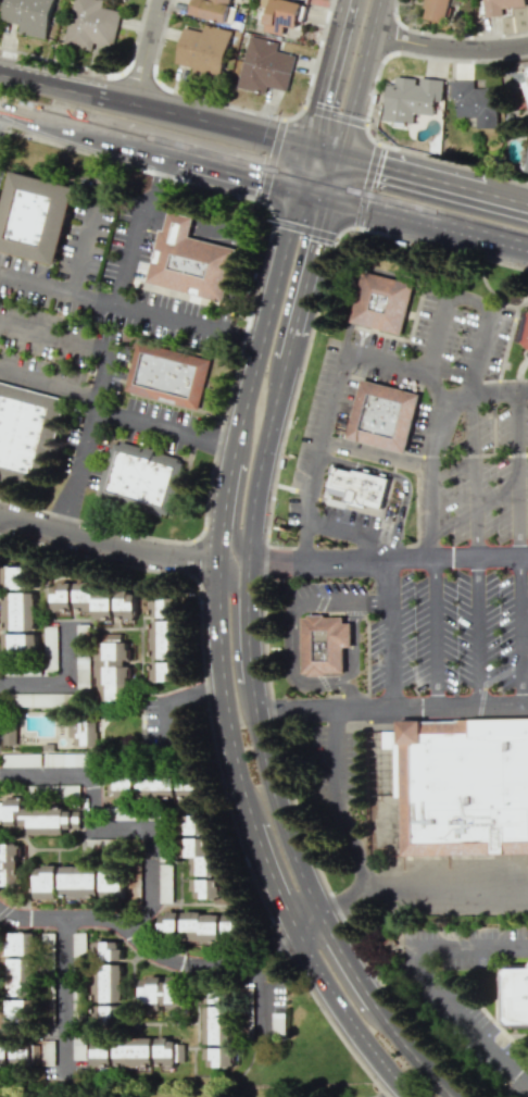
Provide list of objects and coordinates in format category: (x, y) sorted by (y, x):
road: (350, 1)
building: (500, 5)
building: (210, 9)
building: (437, 10)
building: (29, 15)
building: (281, 15)
building: (91, 24)
road: (449, 47)
building: (204, 49)
road: (146, 51)
building: (265, 66)
road: (330, 74)
road: (352, 98)
building: (411, 98)
building: (477, 104)
road: (155, 109)
road: (336, 111)
road: (59, 121)
road: (272, 159)
road: (209, 164)
road: (305, 167)
road: (419, 171)
building: (527, 172)
road: (367, 185)
road: (313, 195)
building: (35, 216)
road: (427, 220)
traffic signals: (293, 225)
road: (305, 227)
road: (144, 232)
traffic signals: (319, 232)
building: (190, 261)
road: (310, 266)
building: (382, 302)
road: (472, 307)
road: (129, 313)
building: (524, 331)
parking lot: (461, 335)
road: (53, 337)
parking lot: (379, 342)
road: (506, 345)
road: (288, 347)
road: (104, 358)
road: (518, 369)
parking lot: (376, 373)
building: (166, 374)
road: (513, 381)
road: (435, 388)
road: (113, 413)
parking lot: (314, 413)
building: (382, 416)
parking lot: (418, 427)
building: (26, 433)
road: (326, 437)
road: (376, 456)
road: (466, 456)
road: (261, 460)
road: (76, 469)
road: (517, 476)
building: (140, 477)
road: (428, 477)
road: (472, 477)
parking lot: (486, 477)
road: (402, 479)
building: (356, 485)
road: (238, 493)
road: (330, 502)
road: (224, 504)
parking lot: (292, 510)
parking lot: (351, 514)
road: (341, 527)
road: (109, 539)
road: (302, 540)
road: (412, 559)
road: (272, 562)
building: (14, 578)
parking lot: (325, 589)
road: (263, 593)
building: (61, 598)
building: (92, 601)
building: (125, 608)
building: (158, 608)
building: (18, 611)
road: (291, 615)
road: (235, 625)
parking lot: (463, 632)
road: (521, 632)
road: (476, 633)
road: (385, 634)
road: (432, 634)
building: (160, 639)
building: (175, 640)
building: (324, 644)
building: (18, 645)
building: (50, 647)
road: (354, 647)
building: (110, 665)
road: (61, 684)
road: (349, 689)
building: (28, 699)
road: (172, 699)
road: (391, 709)
building: (80, 730)
road: (261, 741)
building: (66, 759)
building: (21, 760)
parking lot: (335, 764)
building: (120, 785)
building: (155, 786)
building: (465, 788)
road: (338, 800)
road: (95, 818)
building: (201, 859)
building: (9, 865)
road: (269, 877)
building: (78, 881)
building: (111, 881)
building: (45, 882)
building: (165, 883)
building: (205, 888)
road: (440, 888)
road: (336, 901)
road: (306, 920)
building: (168, 921)
building: (200, 926)
building: (16, 944)
road: (469, 947)
road: (148, 949)
road: (344, 958)
building: (106, 971)
building: (14, 976)
building: (163, 994)
building: (516, 995)
road: (65, 997)
road: (264, 997)
building: (21, 1010)
building: (108, 1014)
road: (345, 1017)
road: (465, 1019)
building: (213, 1024)
building: (227, 1024)
building: (134, 1051)
building: (169, 1051)
road: (412, 1051)
building: (4, 1052)
building: (26, 1054)
building: (218, 1057)

